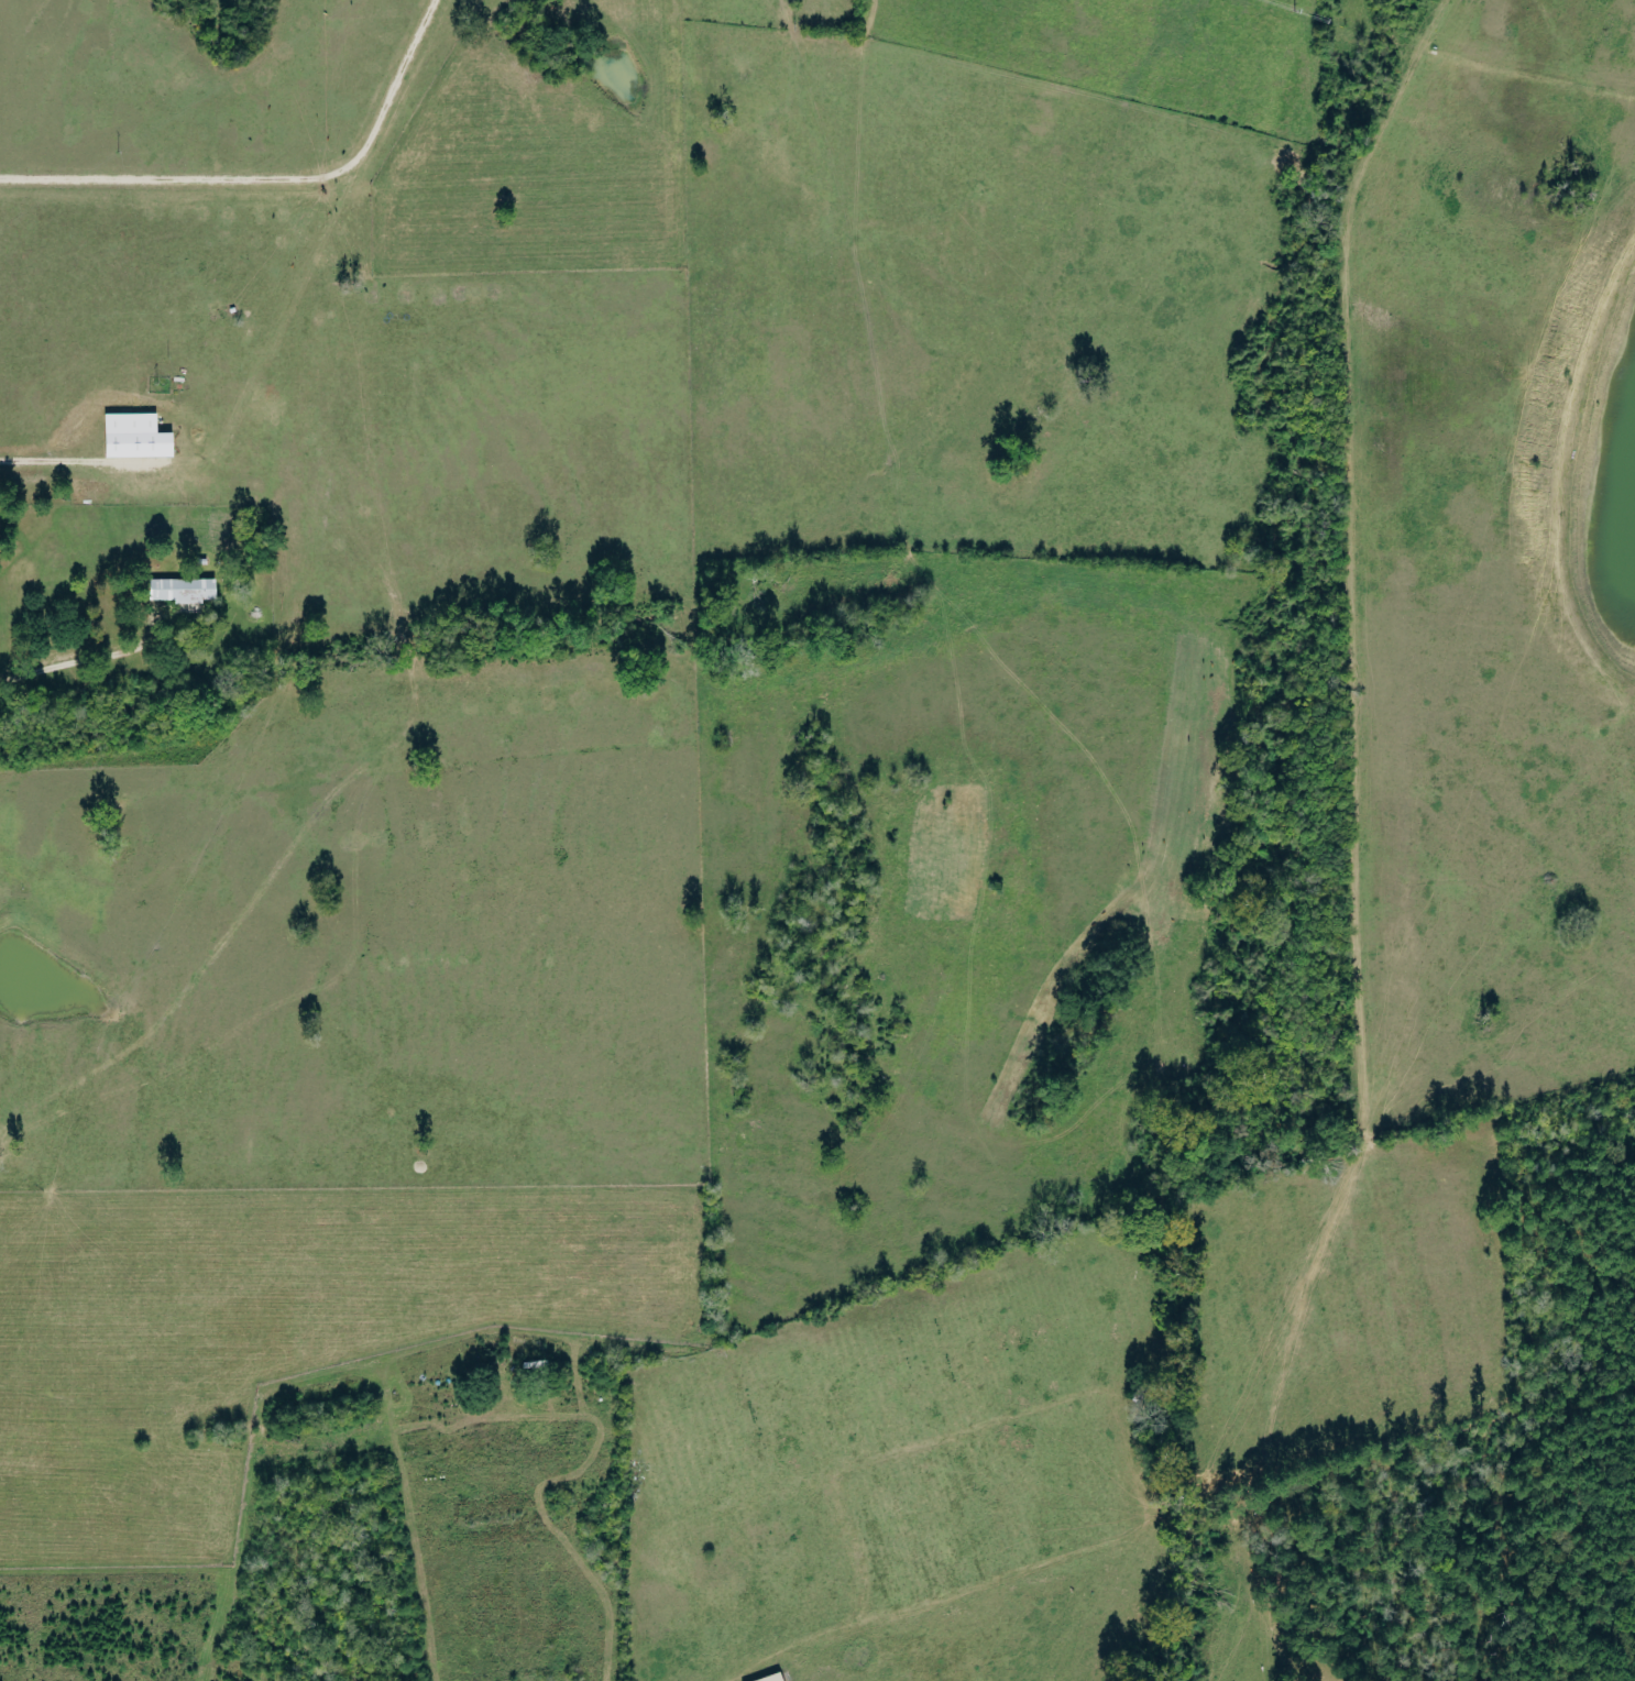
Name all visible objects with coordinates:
road: (271, 179)
building: (142, 438)
building: (189, 591)
road: (80, 660)
building: (766, 1678)

